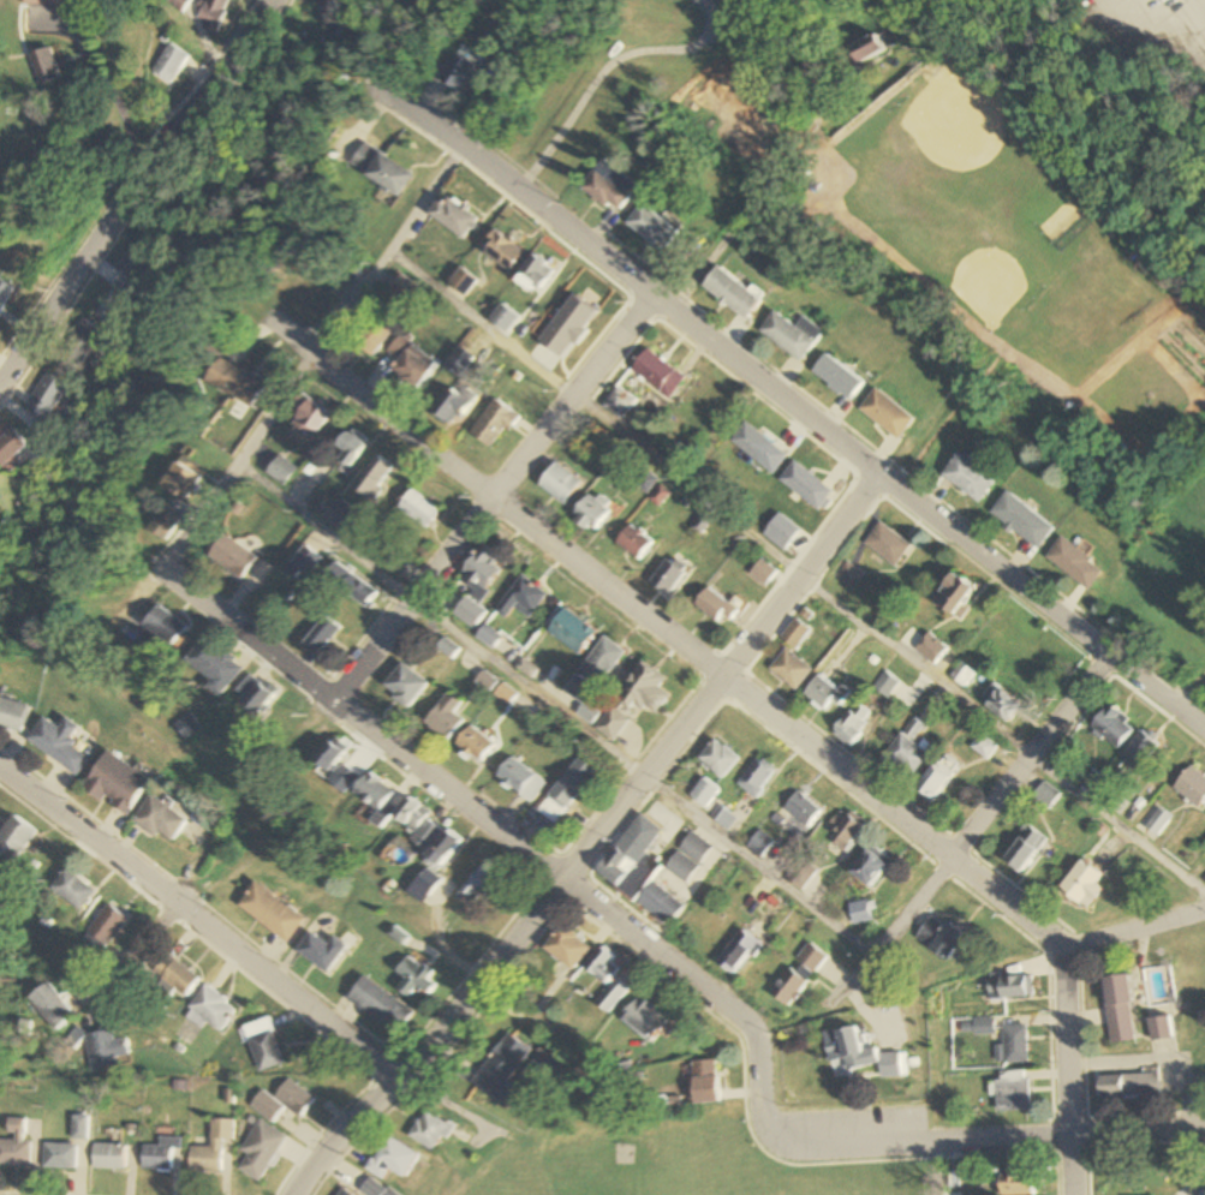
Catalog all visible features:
building: (38, 2)
building: (178, 4)
building: (213, 13)
building: (332, 13)
road: (1194, 17)
parking lot: (1173, 29)
building: (864, 43)
building: (168, 64)
building: (42, 66)
road: (602, 71)
building: (458, 73)
road: (525, 73)
road: (775, 166)
building: (382, 169)
building: (599, 191)
road: (136, 192)
building: (453, 216)
building: (662, 238)
building: (502, 251)
building: (145, 263)
building: (533, 274)
building: (463, 281)
road: (371, 282)
building: (404, 287)
building: (727, 289)
building: (4, 291)
road: (945, 301)
building: (505, 318)
building: (786, 334)
building: (374, 336)
building: (85, 341)
building: (411, 362)
building: (657, 375)
building: (835, 375)
building: (240, 382)
building: (48, 398)
building: (619, 404)
building: (888, 412)
building: (311, 419)
building: (495, 425)
road: (835, 440)
building: (11, 447)
building: (754, 447)
building: (352, 448)
building: (282, 471)
building: (966, 476)
building: (375, 478)
building: (185, 483)
building: (561, 484)
building: (804, 486)
road: (496, 498)
building: (419, 509)
building: (592, 514)
building: (342, 515)
building: (1019, 519)
building: (168, 522)
building: (634, 543)
building: (885, 544)
building: (233, 557)
building: (392, 560)
building: (308, 561)
building: (1070, 561)
building: (483, 570)
building: (762, 573)
road: (799, 574)
building: (668, 576)
building: (352, 586)
building: (523, 599)
building: (716, 608)
building: (470, 613)
building: (572, 632)
building: (162, 633)
building: (794, 634)
building: (323, 635)
building: (930, 649)
building: (603, 661)
building: (216, 665)
building: (791, 669)
building: (964, 674)
road: (723, 679)
building: (885, 685)
building: (405, 686)
building: (260, 695)
building: (824, 695)
building: (633, 701)
building: (1001, 703)
road: (557, 711)
building: (14, 716)
building: (446, 717)
road: (366, 723)
building: (853, 724)
building: (1112, 727)
road: (788, 728)
building: (476, 743)
building: (60, 745)
building: (1139, 749)
building: (907, 753)
building: (718, 759)
building: (336, 765)
building: (757, 777)
building: (521, 779)
building: (935, 782)
building: (117, 784)
building: (1192, 788)
building: (567, 790)
building: (704, 793)
building: (375, 794)
building: (1046, 796)
building: (804, 808)
road: (991, 808)
building: (723, 819)
building: (161, 820)
building: (419, 824)
building: (846, 831)
building: (14, 838)
building: (759, 844)
building: (443, 849)
building: (1025, 850)
building: (631, 852)
building: (688, 858)
building: (871, 867)
building: (1204, 880)
building: (428, 882)
building: (2, 884)
building: (478, 886)
building: (1082, 886)
building: (72, 890)
building: (658, 904)
building: (274, 913)
building: (860, 913)
road: (201, 920)
building: (107, 927)
road: (159, 930)
road: (1137, 931)
building: (942, 939)
building: (567, 949)
building: (324, 952)
building: (736, 954)
building: (797, 975)
building: (174, 976)
building: (416, 979)
building: (606, 980)
building: (1009, 988)
road: (706, 996)
building: (50, 1006)
building: (382, 1006)
building: (210, 1010)
building: (1120, 1010)
building: (644, 1020)
building: (1161, 1029)
road: (431, 1040)
building: (264, 1045)
building: (1015, 1045)
building: (105, 1053)
building: (859, 1054)
building: (501, 1066)
building: (704, 1083)
building: (1129, 1086)
building: (1013, 1092)
building: (285, 1101)
building: (429, 1131)
road: (995, 1139)
building: (14, 1146)
building: (211, 1148)
building: (260, 1152)
building: (159, 1155)
building: (59, 1157)
building: (108, 1157)
building: (390, 1160)
road: (1185, 1161)
park: (684, 1166)
road: (931, 1169)
building: (1016, 1182)

